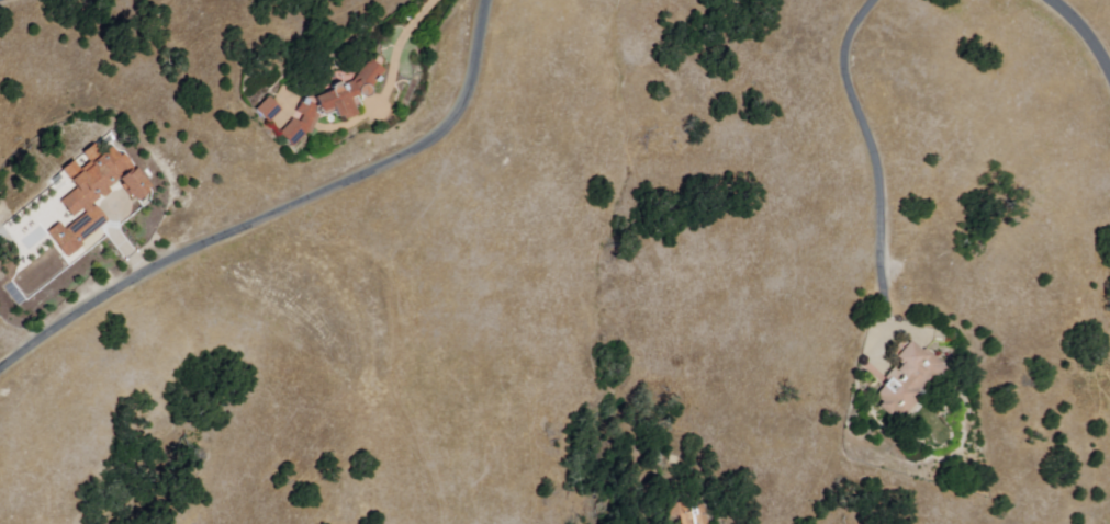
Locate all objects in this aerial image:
road: (1085, 31)
road: (399, 53)
building: (337, 102)
building: (271, 109)
road: (874, 158)
building: (102, 194)
road: (281, 212)
building: (907, 379)
building: (692, 516)

